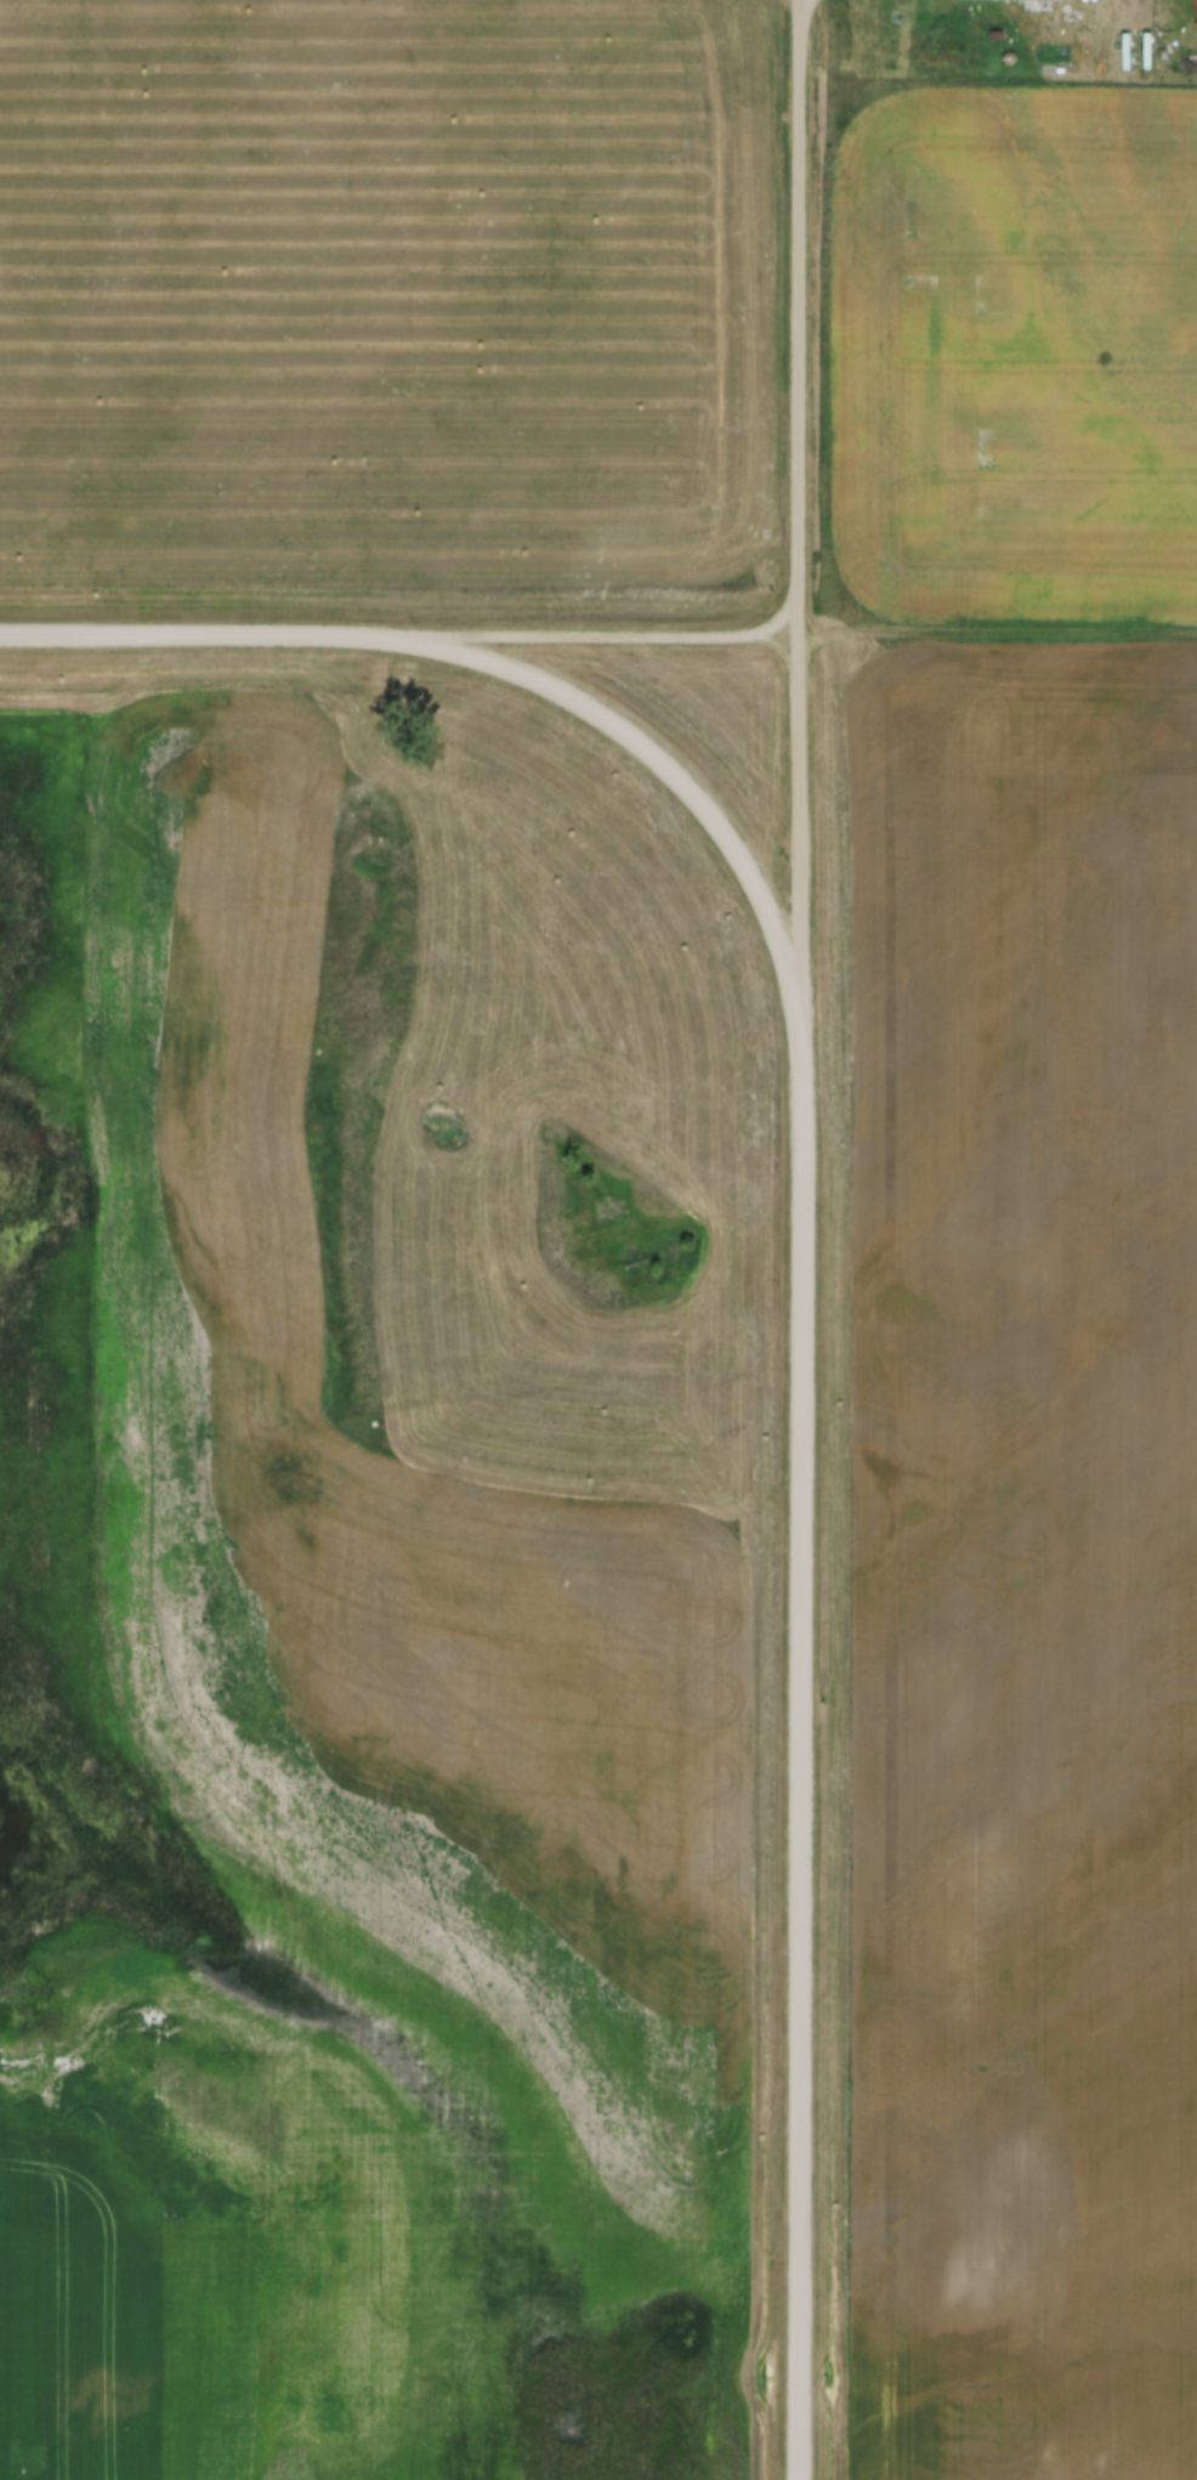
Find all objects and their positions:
building: (895, 5)
building: (1074, 16)
road: (799, 493)
road: (998, 632)
road: (594, 635)
road: (194, 638)
road: (648, 748)
road: (800, 1733)

